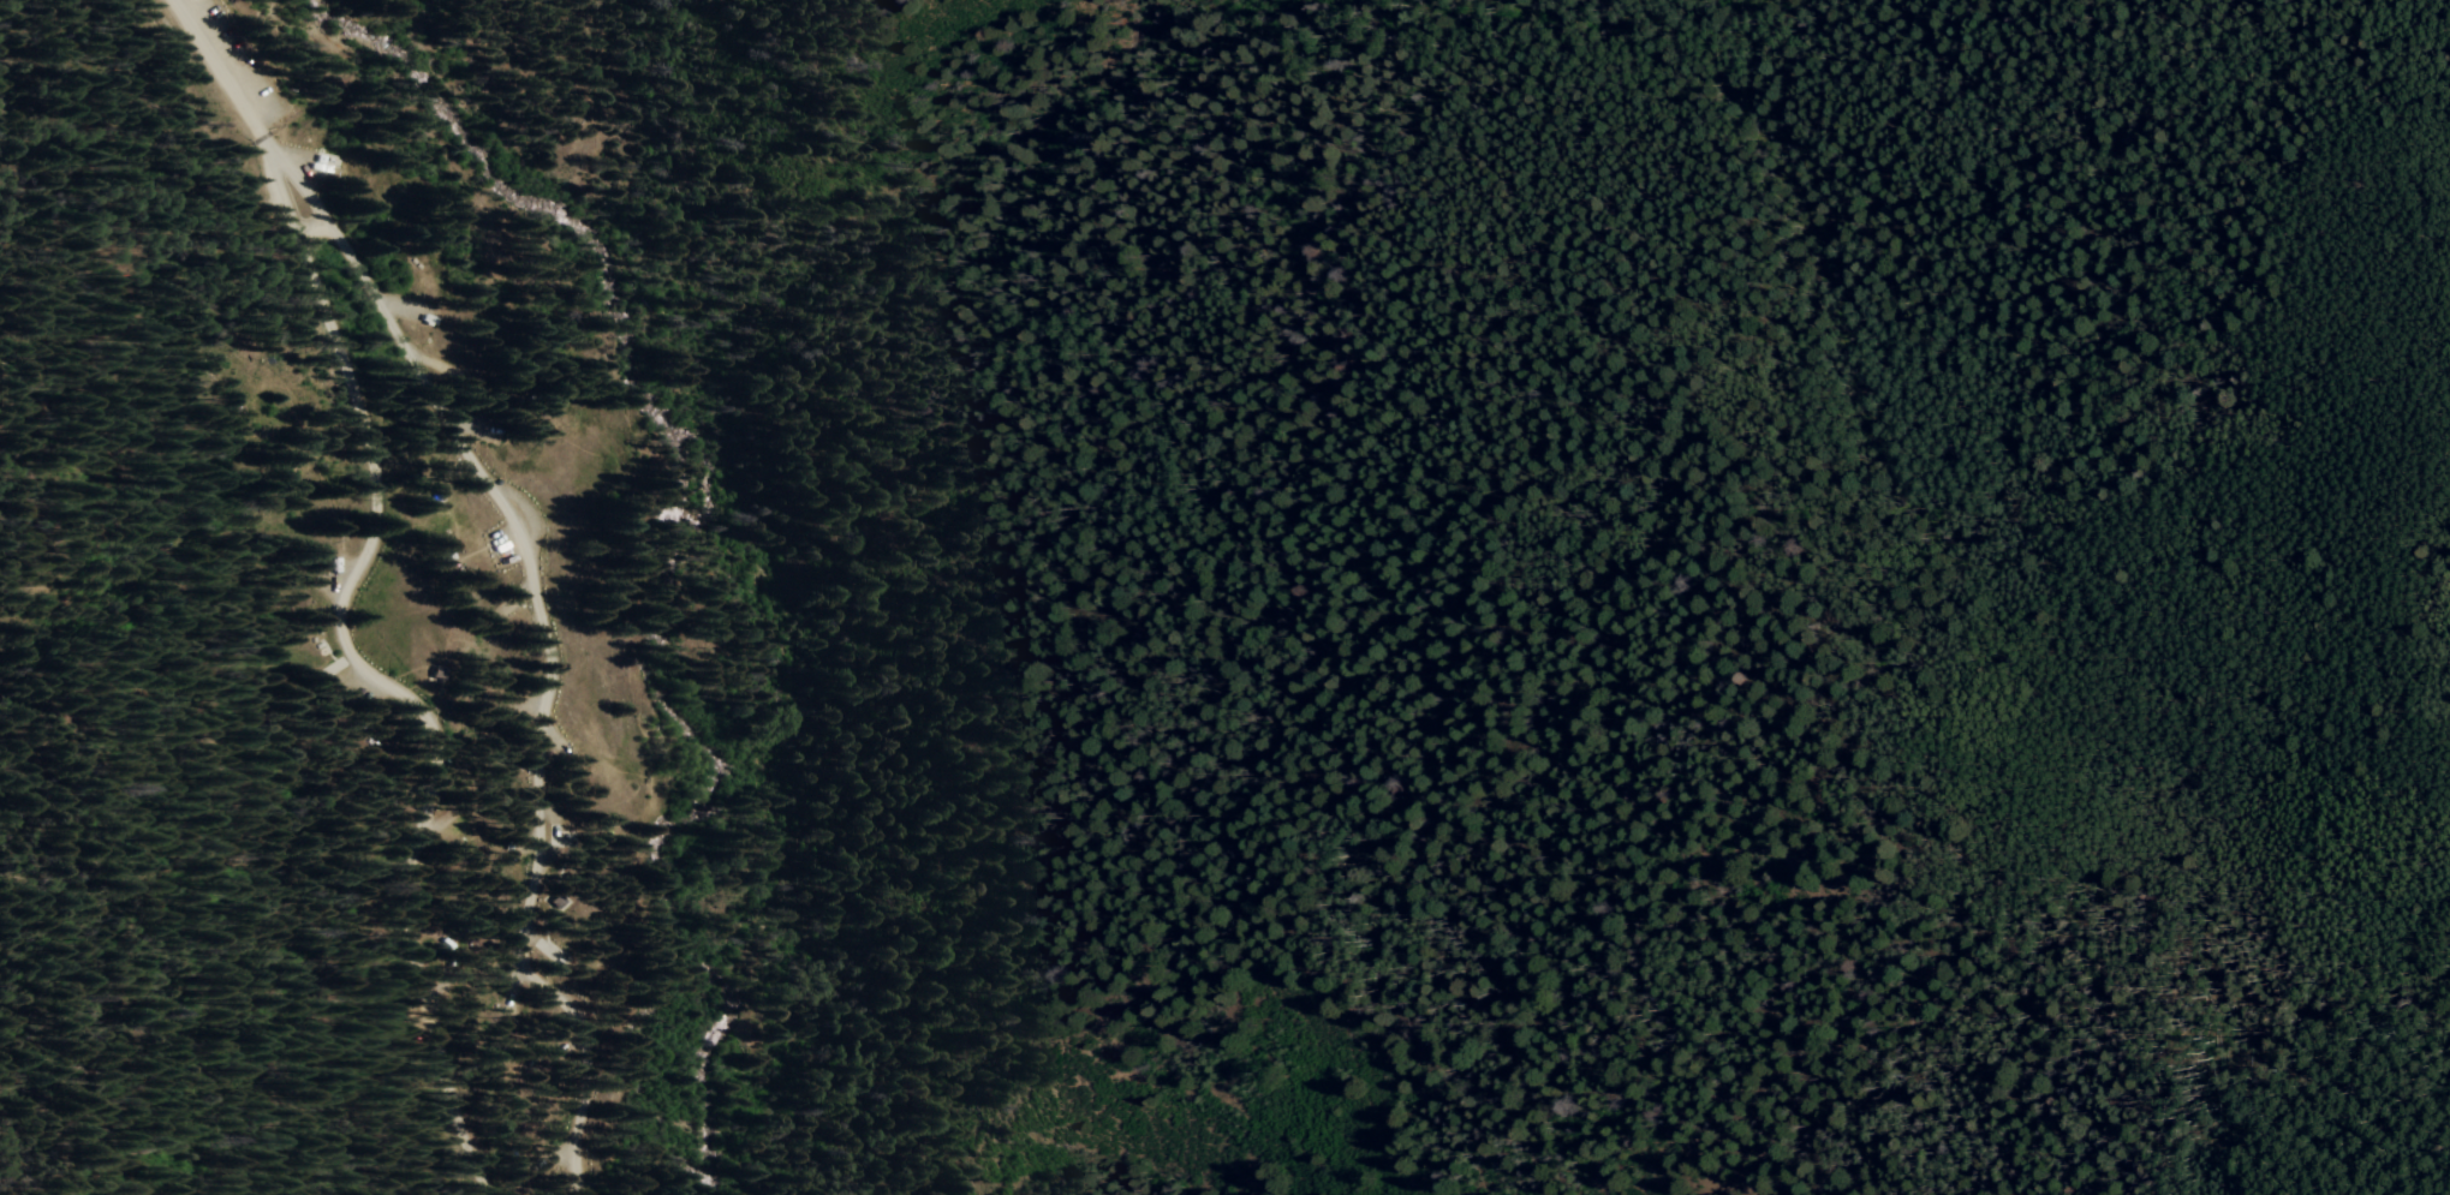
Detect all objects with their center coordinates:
road: (222, 73)
road: (281, 155)
river: (656, 522)
road: (184, 614)

